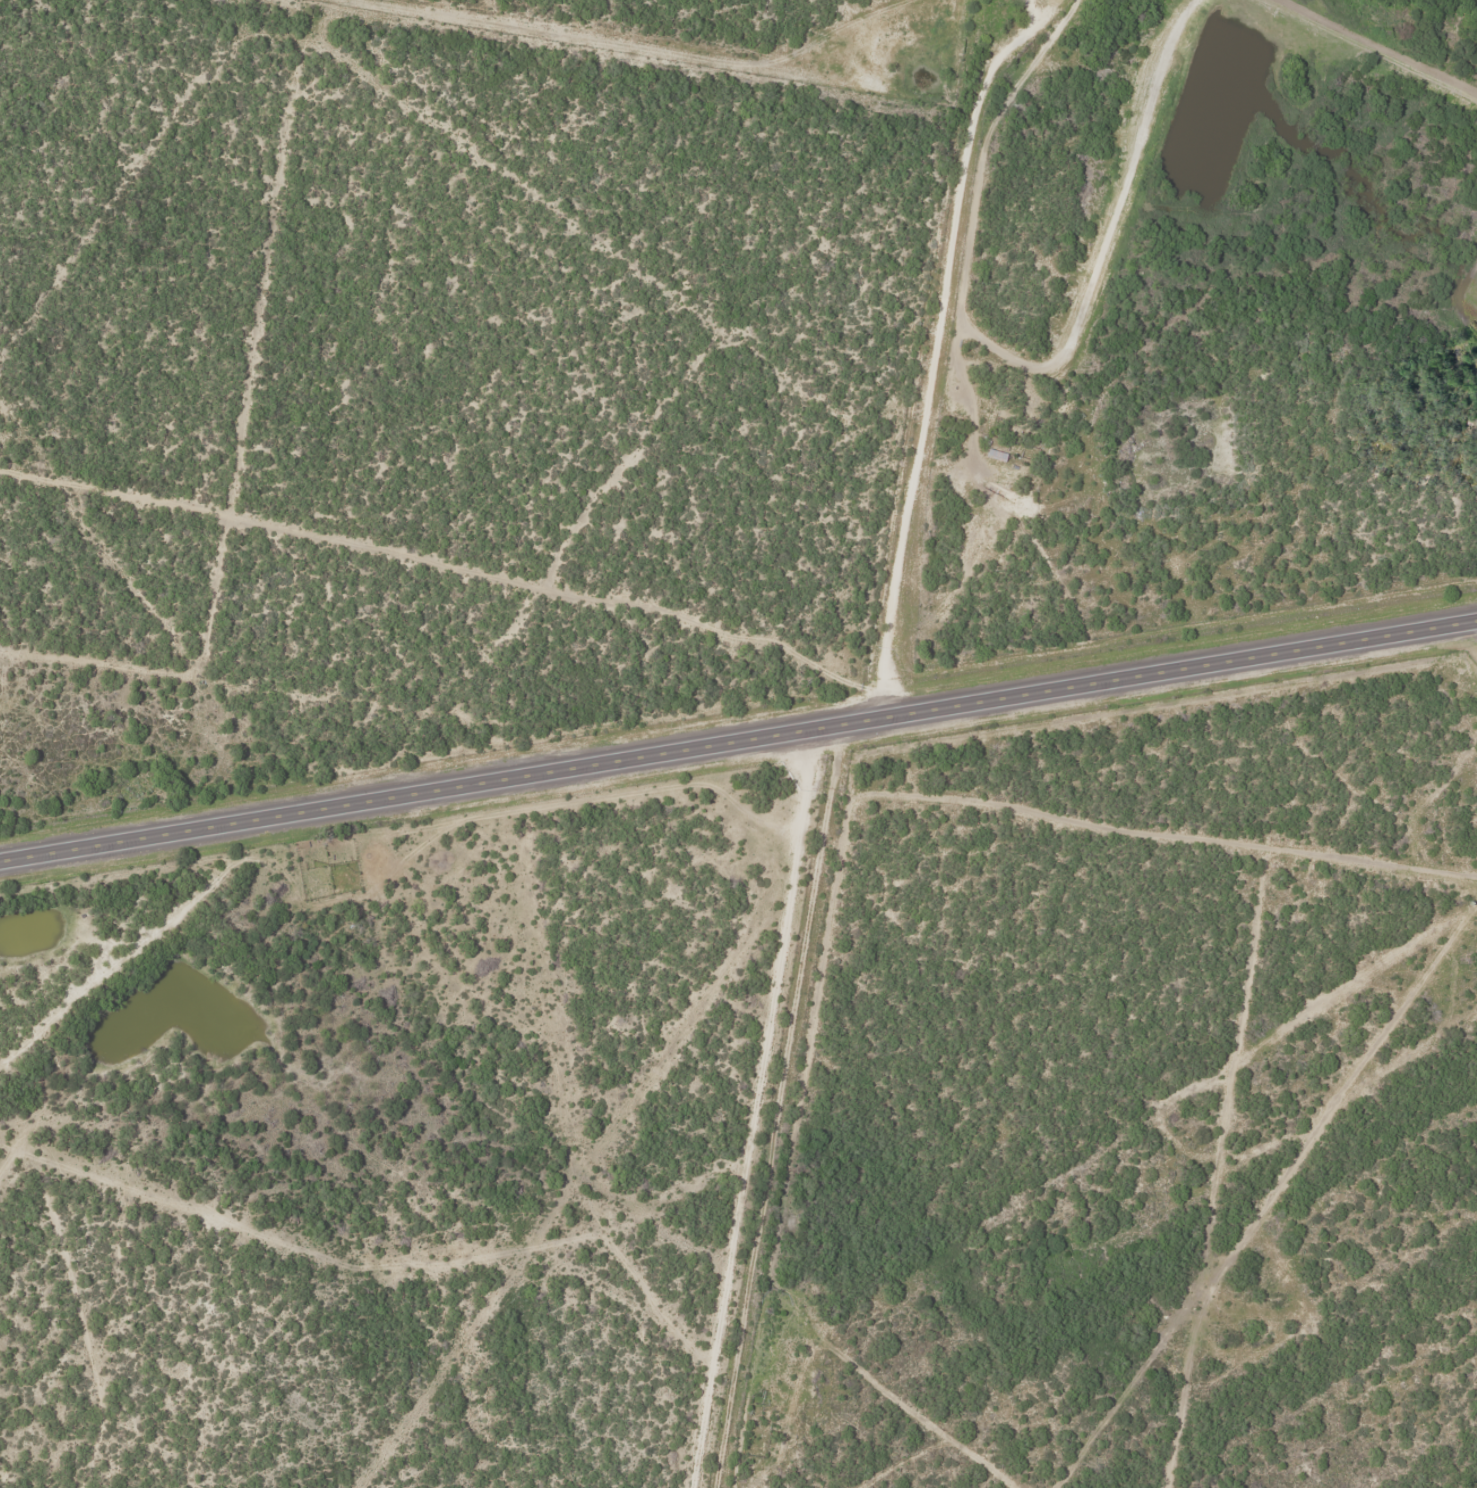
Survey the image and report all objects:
road: (934, 359)
building: (995, 455)
road: (443, 558)
road: (739, 740)
road: (765, 1107)

